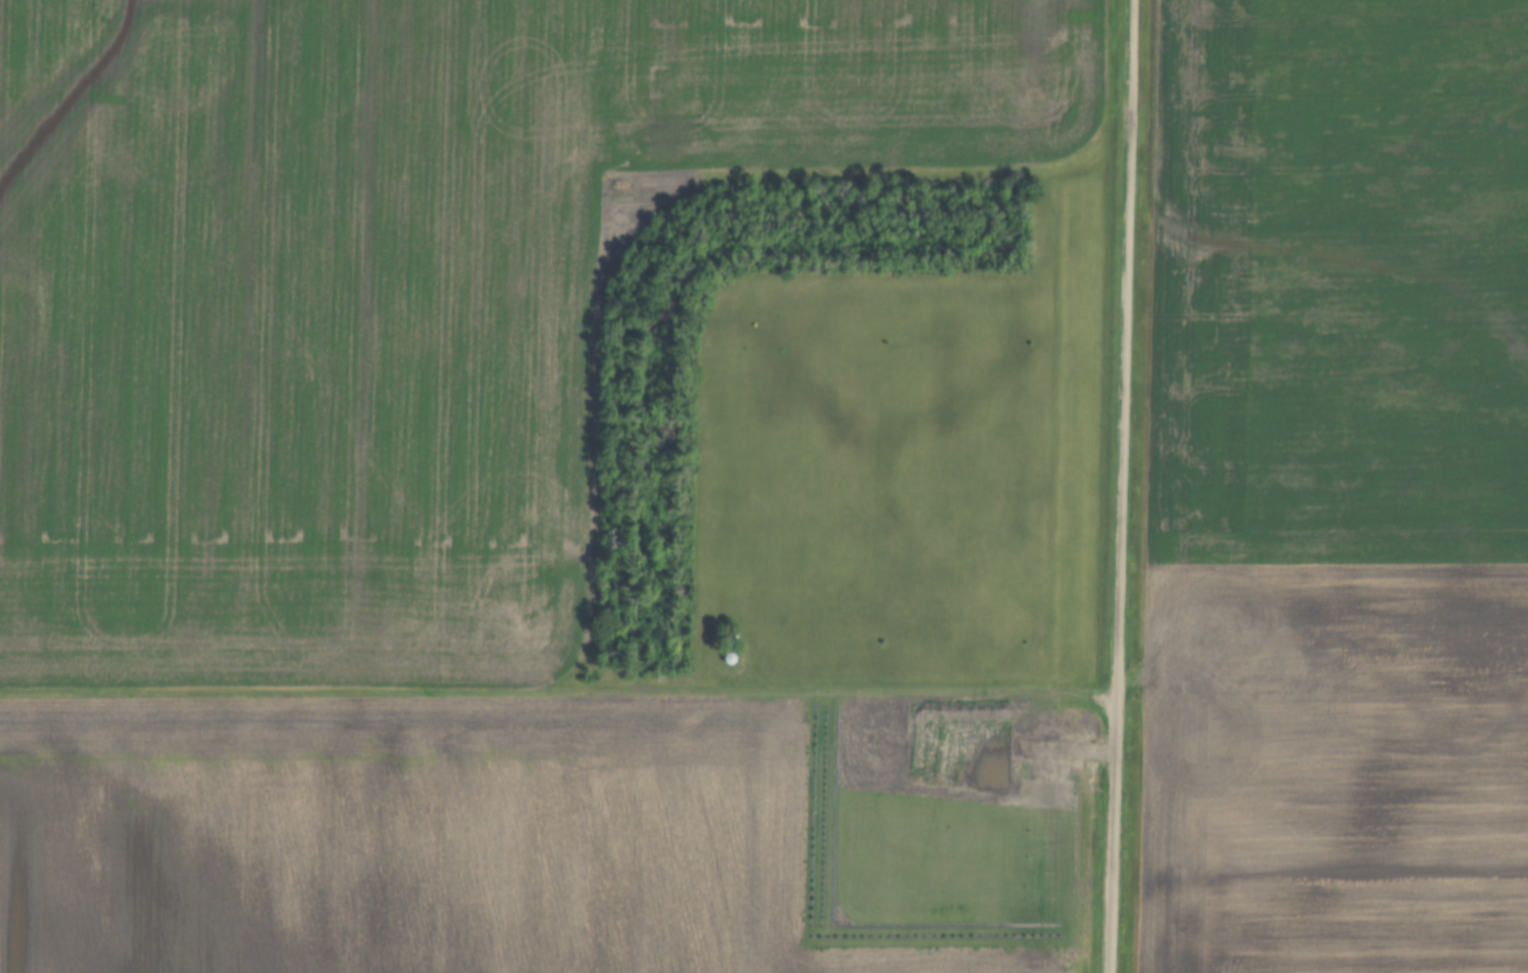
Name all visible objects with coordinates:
crop: (389, 294)
road: (1116, 486)
crop: (1335, 490)
building: (729, 638)
silo: (729, 638)
building: (727, 657)
silo: (727, 657)
crop: (537, 834)

